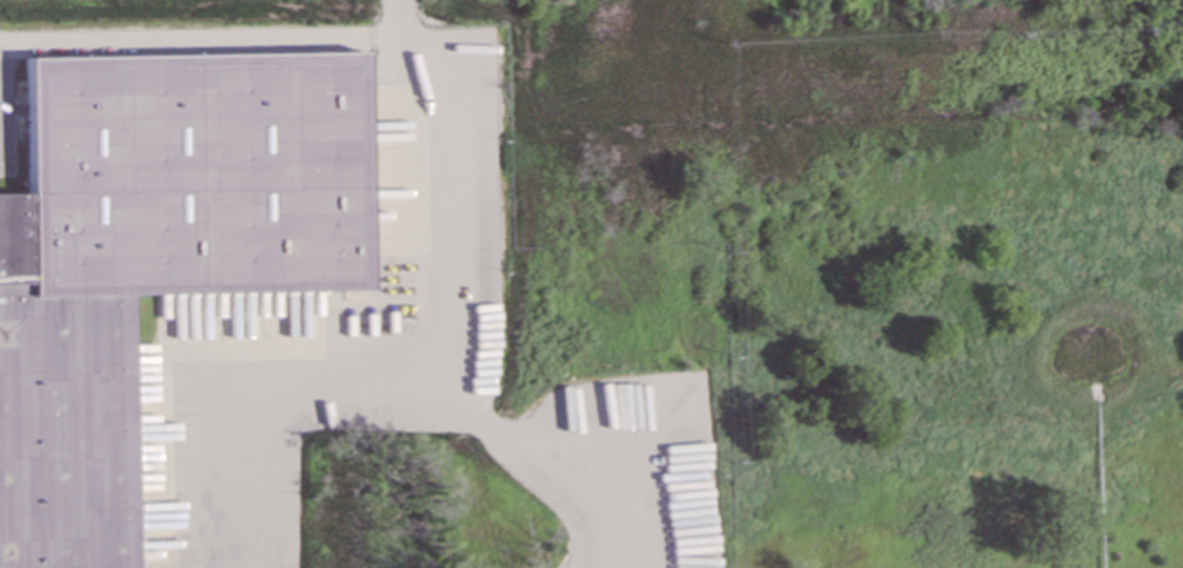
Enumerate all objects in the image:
road: (204, 42)
road: (0, 45)
road: (2, 93)
road: (443, 370)
road: (558, 457)

